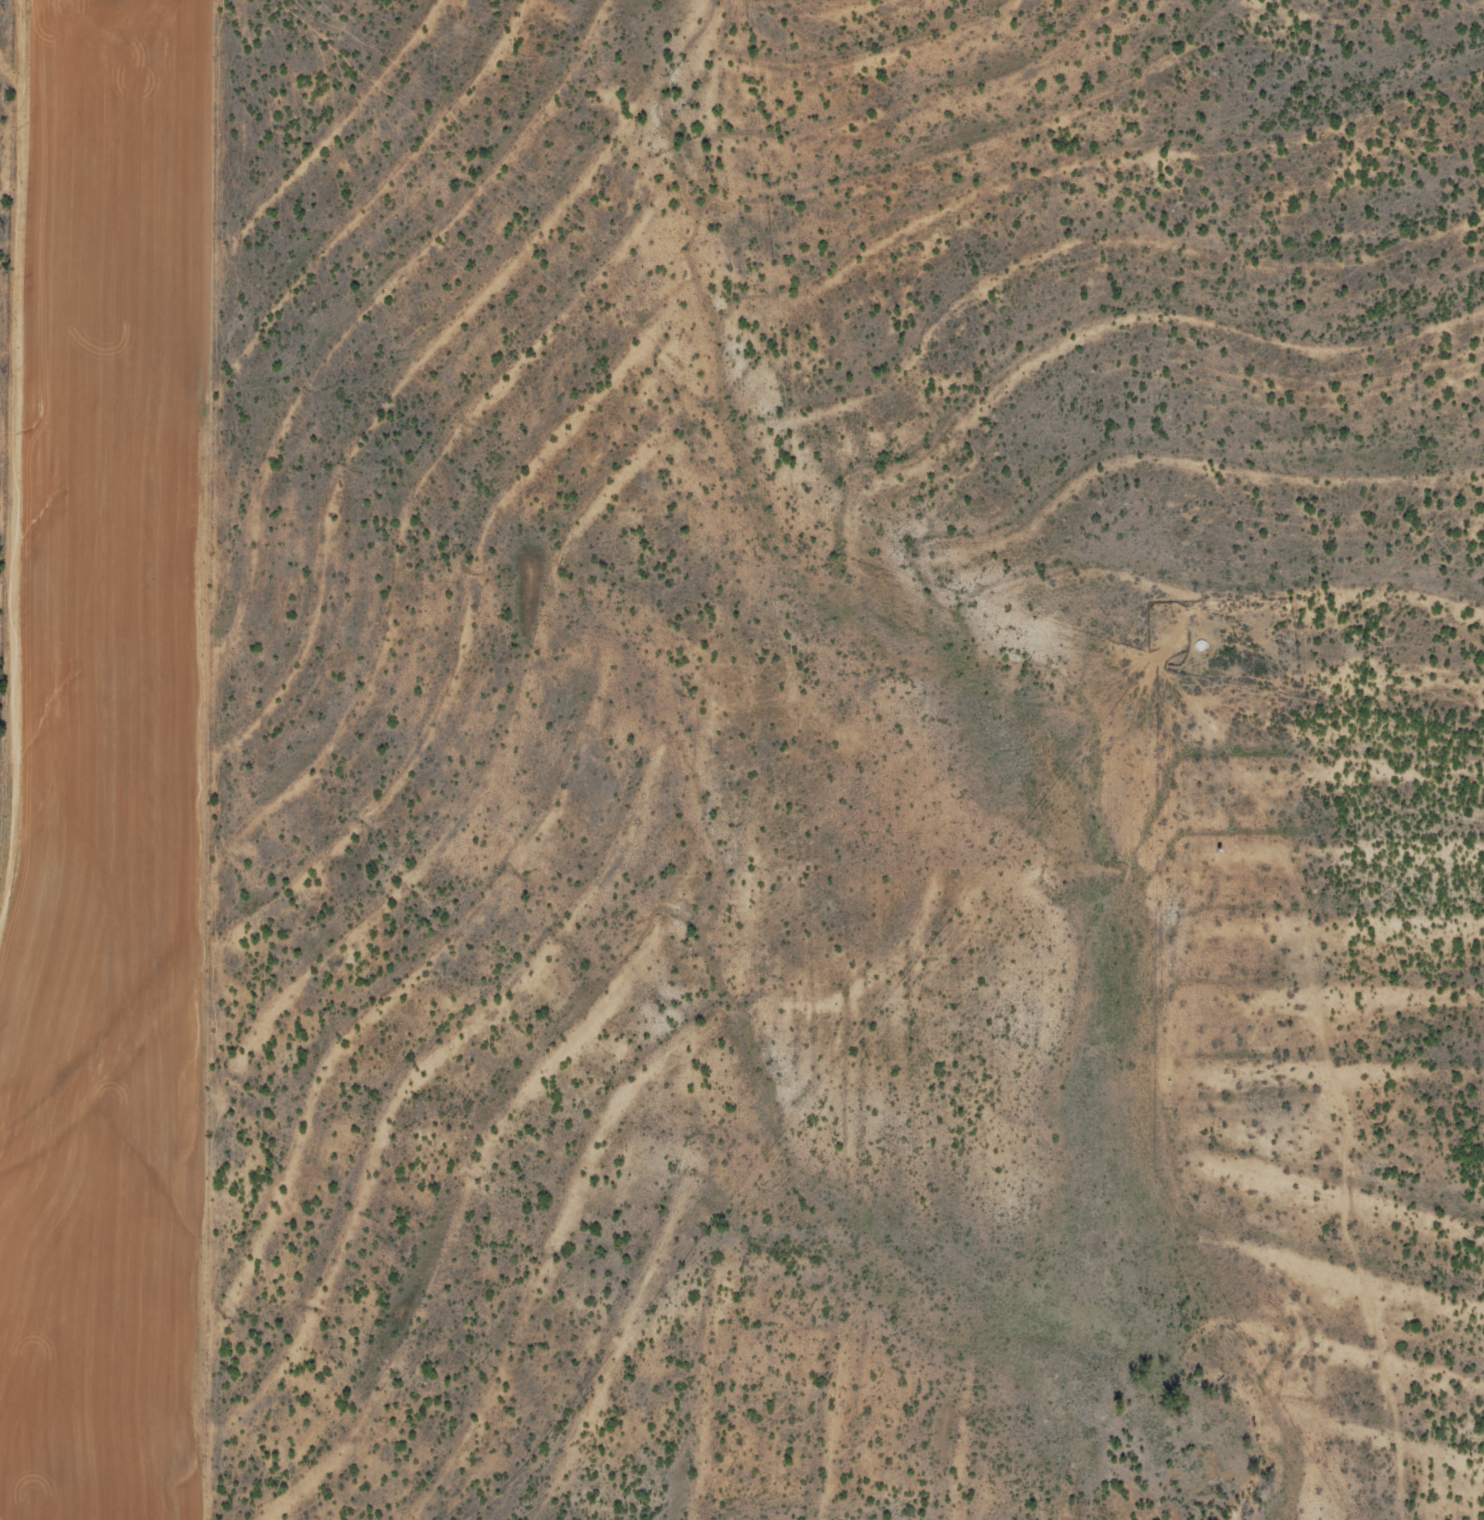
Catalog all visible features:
road: (16, 399)

